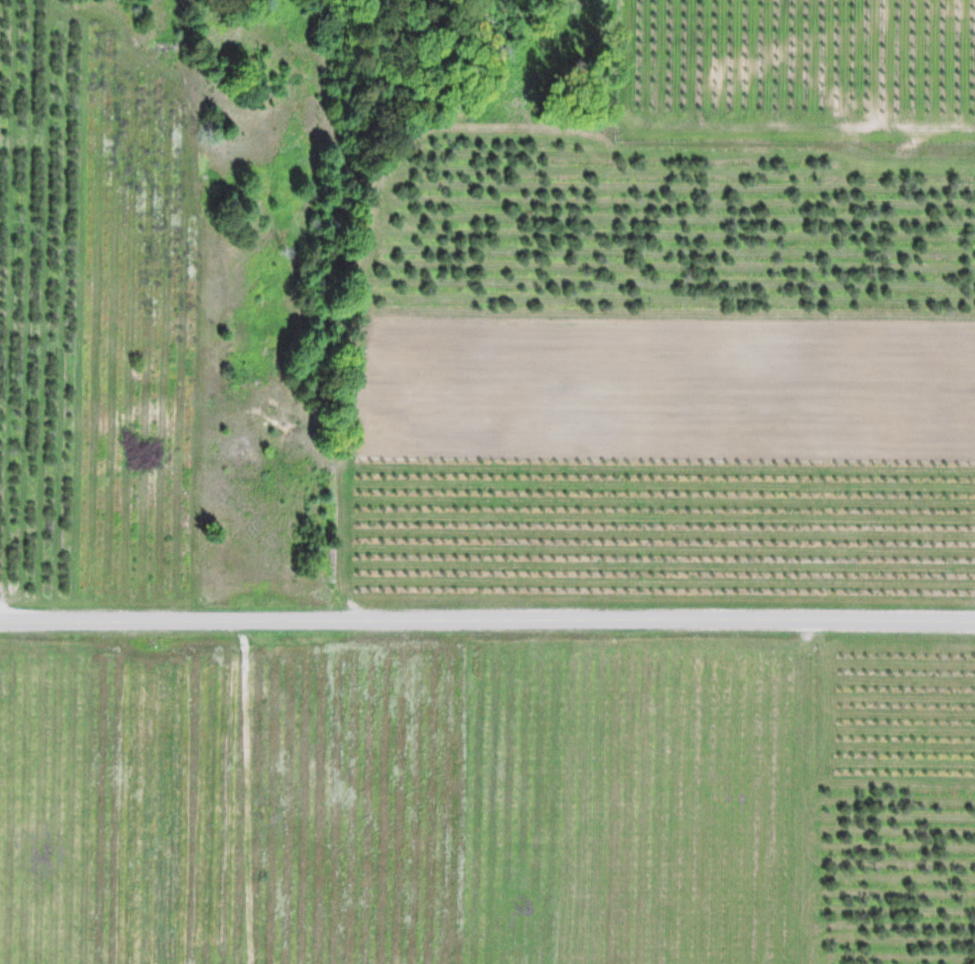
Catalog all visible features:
road: (487, 623)

